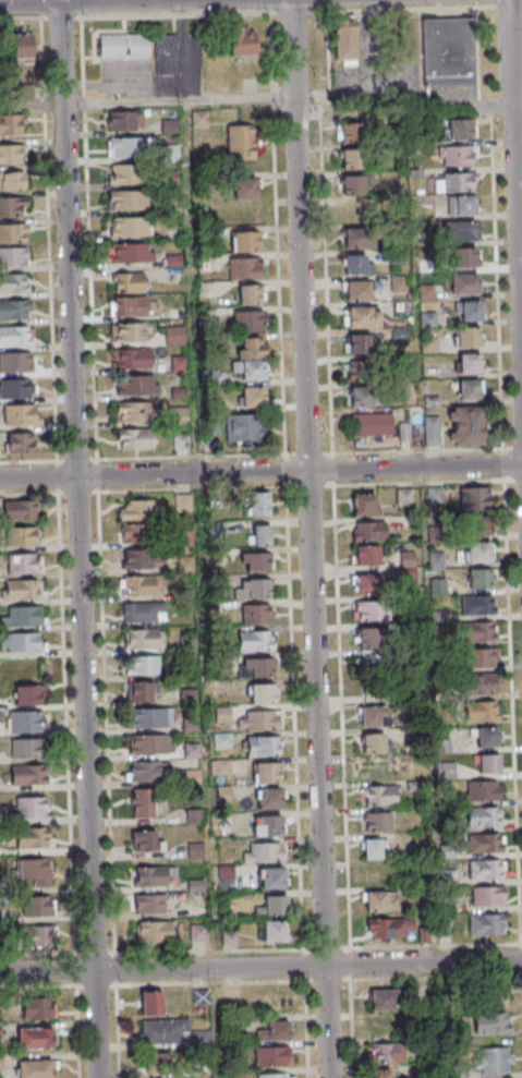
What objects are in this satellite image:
road: (507, 4)
road: (403, 8)
road: (291, 12)
road: (20, 17)
road: (60, 17)
building: (344, 41)
building: (242, 43)
building: (124, 46)
building: (19, 48)
building: (448, 51)
building: (166, 54)
road: (165, 87)
road: (178, 99)
road: (31, 105)
road: (517, 105)
building: (124, 121)
building: (10, 124)
building: (462, 129)
building: (351, 132)
building: (241, 141)
building: (126, 147)
building: (11, 154)
building: (454, 155)
building: (351, 158)
building: (125, 174)
building: (12, 181)
building: (456, 181)
building: (353, 185)
building: (244, 186)
road: (514, 187)
building: (129, 199)
building: (461, 205)
building: (12, 207)
building: (356, 211)
building: (130, 227)
building: (461, 230)
building: (13, 233)
building: (357, 238)
building: (244, 241)
building: (132, 253)
building: (13, 256)
building: (465, 257)
building: (355, 264)
road: (48, 266)
building: (244, 267)
building: (13, 283)
building: (130, 283)
building: (464, 283)
building: (398, 286)
building: (356, 290)
building: (250, 294)
building: (129, 305)
building: (15, 310)
building: (470, 311)
building: (361, 316)
building: (248, 320)
building: (126, 331)
building: (15, 336)
building: (174, 336)
building: (468, 336)
building: (356, 343)
building: (131, 359)
building: (251, 359)
building: (15, 363)
building: (469, 363)
building: (359, 370)
building: (133, 385)
building: (15, 389)
building: (470, 389)
building: (253, 397)
building: (361, 397)
building: (133, 411)
building: (21, 414)
building: (372, 424)
building: (465, 425)
building: (244, 427)
building: (432, 431)
building: (134, 438)
building: (17, 443)
road: (420, 449)
road: (95, 458)
road: (260, 472)
building: (473, 498)
building: (255, 504)
building: (364, 505)
building: (21, 509)
building: (137, 510)
building: (369, 531)
building: (132, 533)
building: (23, 536)
building: (258, 536)
road: (77, 538)
road: (309, 538)
building: (476, 552)
building: (366, 556)
building: (134, 558)
building: (408, 559)
building: (185, 562)
building: (257, 562)
building: (24, 564)
building: (479, 579)
building: (366, 584)
building: (144, 585)
building: (258, 588)
building: (23, 590)
building: (477, 605)
building: (144, 611)
building: (371, 611)
building: (256, 614)
building: (24, 616)
building: (477, 632)
building: (372, 638)
building: (143, 639)
building: (255, 640)
building: (21, 642)
building: (478, 658)
building: (374, 664)
building: (142, 665)
building: (256, 667)
building: (481, 686)
building: (139, 691)
building: (263, 693)
building: (28, 695)
building: (481, 711)
building: (374, 716)
building: (150, 717)
building: (259, 720)
building: (26, 722)
building: (485, 737)
building: (221, 740)
building: (372, 742)
building: (150, 744)
building: (263, 746)
building: (27, 748)
building: (489, 763)
building: (446, 770)
building: (147, 771)
building: (266, 772)
building: (27, 774)
building: (482, 790)
building: (380, 795)
building: (269, 798)
building: (143, 803)
building: (31, 807)
building: (484, 816)
building: (377, 822)
building: (269, 825)
building: (32, 837)
building: (146, 841)
building: (486, 843)
building: (372, 848)
building: (264, 852)
building: (34, 869)
building: (485, 869)
building: (153, 875)
building: (377, 875)
building: (271, 879)
building: (487, 896)
building: (380, 900)
building: (149, 904)
building: (272, 905)
building: (36, 907)
building: (486, 924)
building: (393, 928)
building: (274, 931)
building: (156, 932)
building: (197, 932)
building: (35, 937)
road: (260, 967)
building: (201, 996)
building: (493, 996)
building: (277, 1001)
building: (383, 1001)
building: (150, 1002)
building: (35, 1009)
building: (493, 1024)
building: (161, 1031)
building: (275, 1032)
building: (34, 1038)
building: (201, 1038)
building: (387, 1053)
building: (271, 1056)
building: (493, 1061)
building: (158, 1064)
building: (34, 1068)
building: (383, 1074)
building: (271, 1076)

